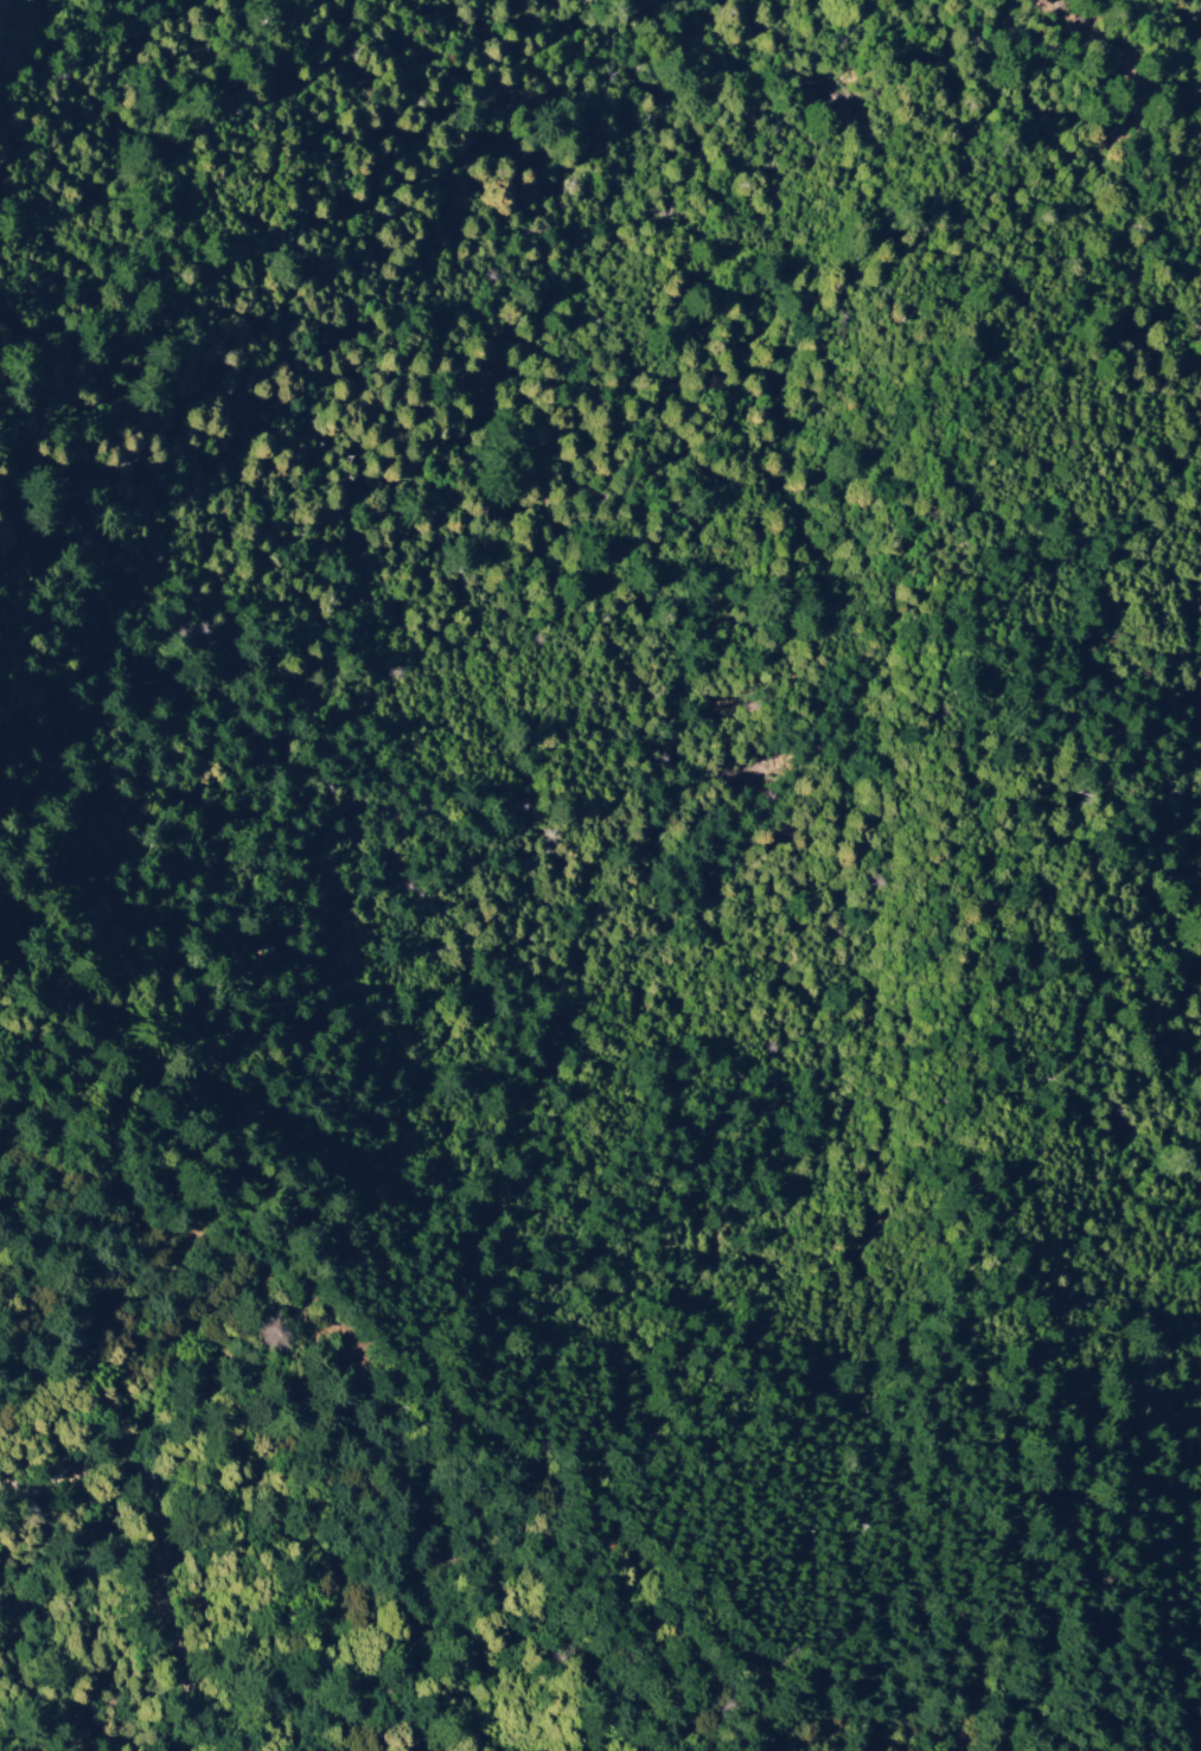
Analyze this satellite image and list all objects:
road: (167, 1534)

